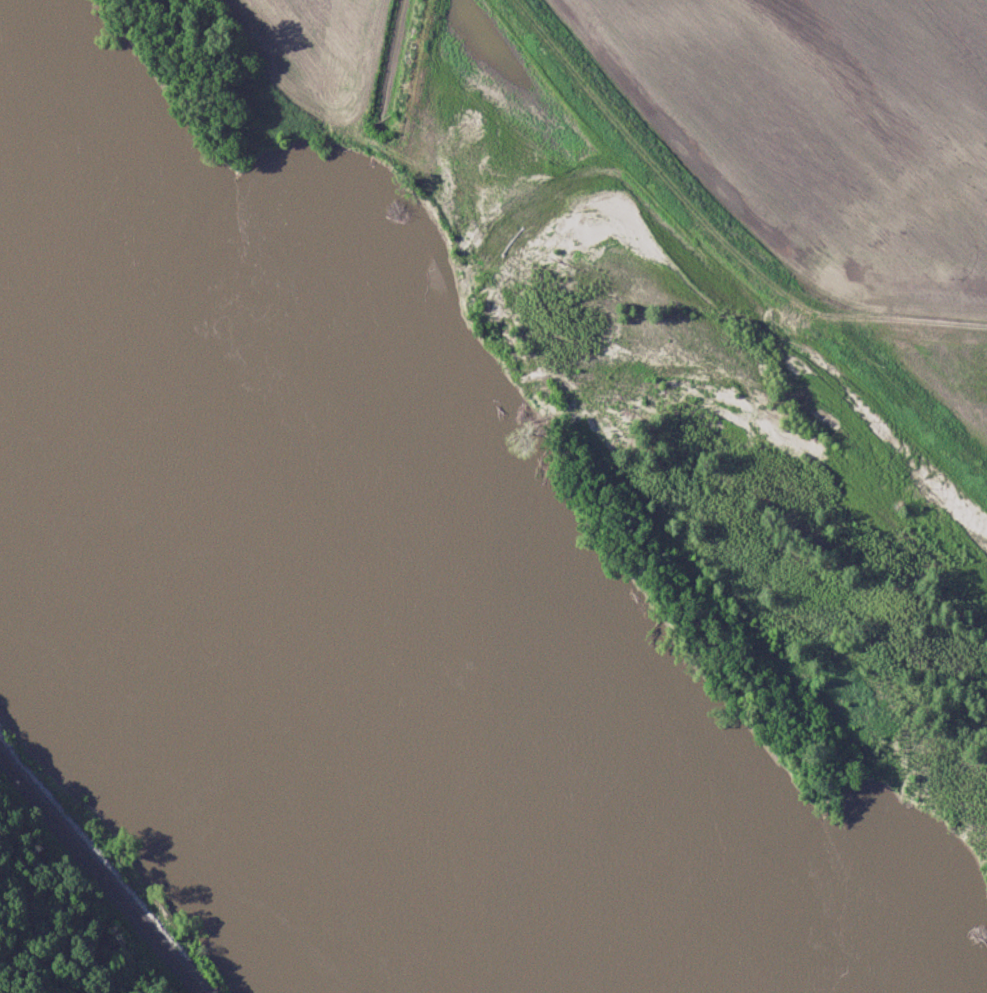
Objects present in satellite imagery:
river: (23, 377)
river: (328, 698)
railway: (100, 874)

